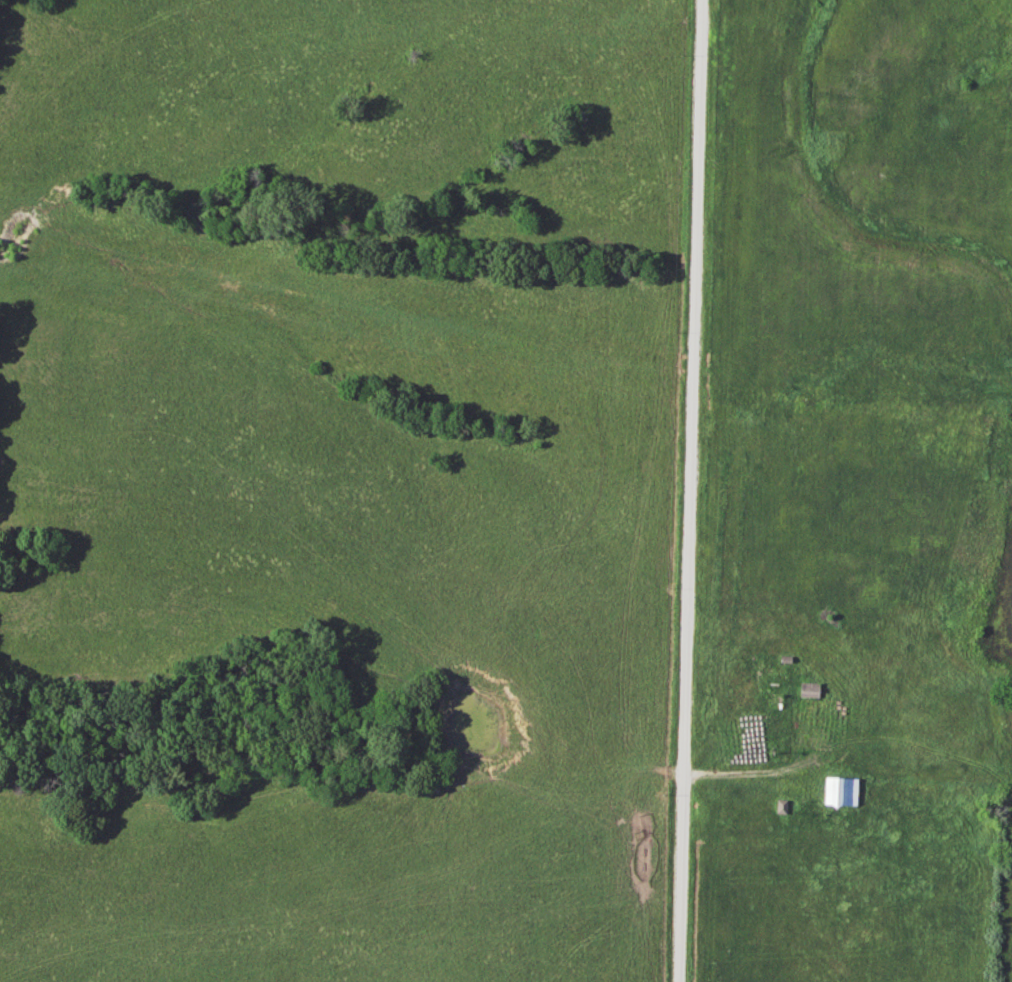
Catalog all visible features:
road: (691, 491)
building: (807, 691)
road: (754, 772)
building: (837, 793)

